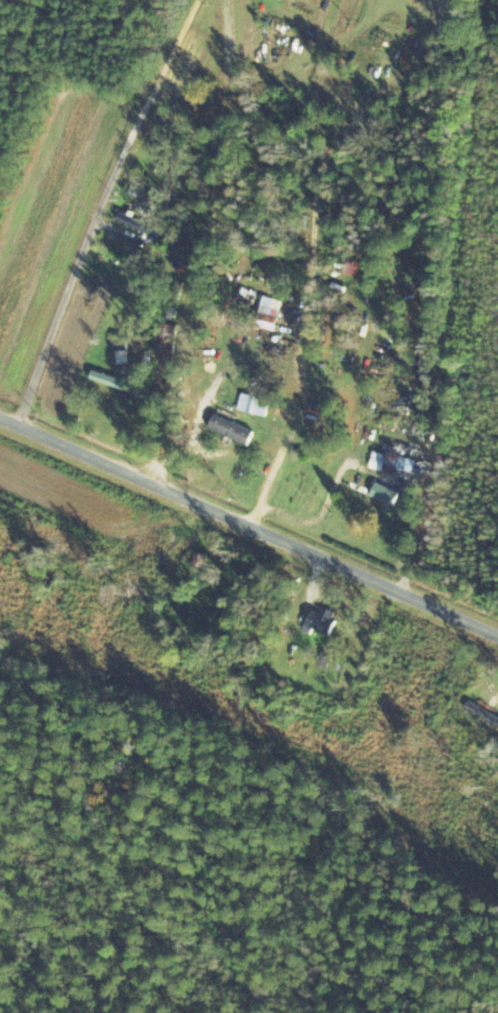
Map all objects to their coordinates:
building: (137, 192)
road: (102, 211)
building: (138, 223)
building: (175, 300)
building: (269, 314)
building: (120, 346)
building: (164, 348)
building: (110, 381)
building: (253, 405)
building: (231, 430)
building: (392, 463)
building: (385, 494)
road: (248, 526)
building: (320, 621)
building: (482, 714)

